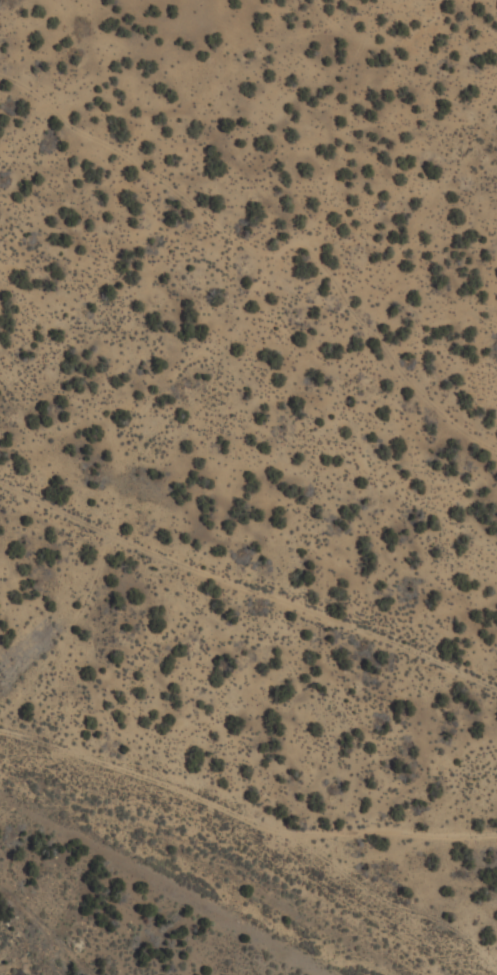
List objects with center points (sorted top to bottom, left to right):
road: (224, 847)

